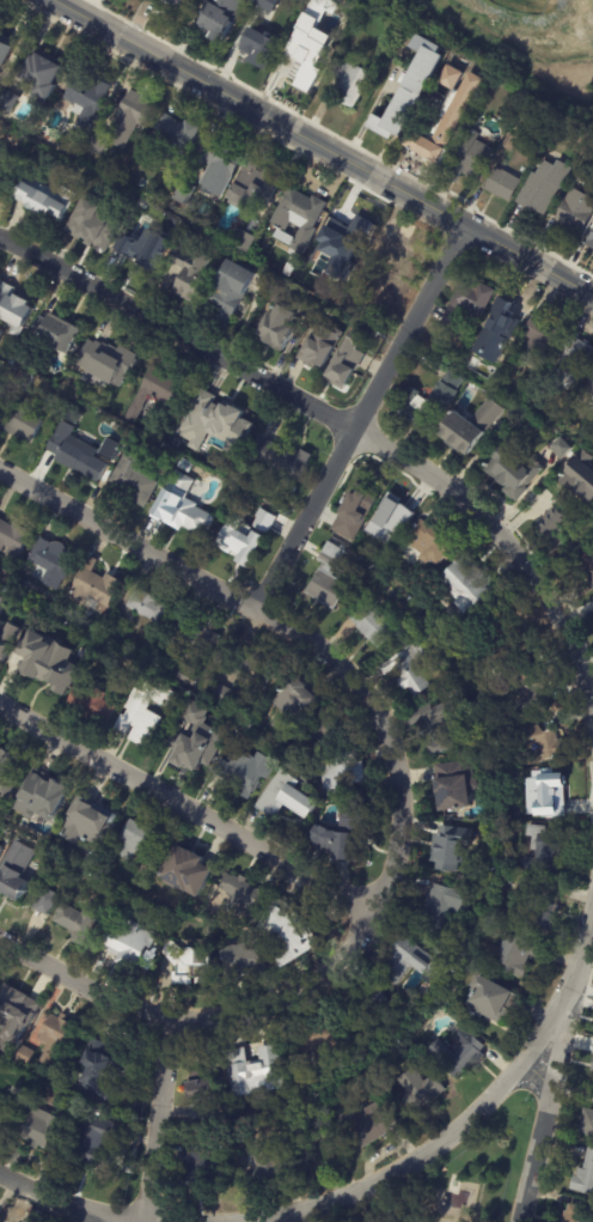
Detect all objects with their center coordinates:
building: (268, 4)
building: (181, 5)
building: (357, 6)
building: (222, 18)
building: (262, 39)
building: (8, 48)
building: (308, 60)
building: (44, 74)
building: (351, 81)
building: (90, 98)
building: (11, 99)
building: (422, 102)
building: (509, 107)
building: (134, 117)
building: (56, 120)
building: (179, 135)
building: (100, 141)
building: (511, 141)
road: (323, 147)
building: (589, 152)
building: (224, 158)
building: (472, 158)
building: (585, 171)
building: (4, 174)
building: (503, 183)
building: (253, 188)
building: (185, 191)
building: (540, 191)
building: (50, 201)
building: (148, 211)
building: (574, 214)
building: (300, 219)
building: (97, 221)
building: (353, 233)
building: (243, 239)
building: (591, 239)
building: (135, 250)
building: (157, 251)
building: (395, 262)
building: (293, 267)
building: (191, 273)
building: (356, 287)
building: (232, 288)
road: (589, 294)
building: (470, 304)
building: (17, 309)
building: (313, 309)
building: (507, 320)
building: (280, 327)
road: (409, 327)
building: (2, 334)
building: (60, 334)
road: (178, 336)
building: (542, 340)
building: (478, 351)
building: (26, 354)
building: (328, 354)
building: (575, 359)
building: (110, 361)
building: (343, 364)
building: (591, 379)
building: (26, 381)
building: (592, 388)
building: (161, 393)
building: (2, 396)
building: (427, 403)
building: (555, 415)
building: (24, 422)
building: (222, 424)
building: (470, 426)
building: (587, 431)
building: (182, 439)
building: (569, 449)
building: (112, 454)
building: (78, 456)
building: (280, 458)
building: (188, 466)
building: (514, 469)
building: (580, 476)
building: (136, 480)
building: (246, 506)
building: (554, 506)
building: (185, 507)
building: (378, 510)
road: (306, 518)
building: (265, 521)
building: (347, 521)
building: (244, 539)
building: (14, 540)
road: (128, 542)
building: (430, 543)
road: (505, 543)
building: (55, 563)
building: (588, 567)
building: (330, 578)
building: (6, 583)
building: (470, 585)
building: (94, 588)
building: (0, 597)
building: (151, 608)
building: (374, 625)
building: (429, 633)
building: (117, 636)
building: (6, 649)
building: (196, 650)
building: (161, 663)
building: (410, 669)
building: (137, 671)
building: (258, 671)
building: (51, 673)
building: (88, 680)
building: (528, 683)
building: (222, 693)
building: (294, 701)
building: (96, 706)
building: (142, 721)
building: (326, 728)
building: (447, 729)
building: (509, 735)
building: (201, 740)
building: (542, 740)
building: (246, 772)
building: (10, 773)
building: (342, 776)
building: (458, 785)
building: (551, 795)
building: (47, 797)
building: (289, 797)
road: (188, 804)
building: (90, 823)
building: (348, 835)
building: (143, 841)
building: (0, 844)
building: (457, 845)
building: (548, 853)
road: (397, 855)
building: (16, 871)
building: (192, 874)
building: (472, 882)
building: (111, 896)
building: (246, 898)
building: (48, 902)
building: (546, 904)
building: (445, 908)
building: (79, 923)
building: (293, 934)
building: (134, 947)
building: (442, 953)
building: (521, 953)
road: (580, 957)
building: (247, 962)
building: (415, 962)
building: (194, 963)
road: (84, 984)
building: (489, 1001)
building: (367, 1005)
building: (16, 1010)
building: (55, 1036)
building: (317, 1044)
building: (459, 1056)
building: (27, 1057)
building: (66, 1064)
building: (592, 1065)
building: (98, 1070)
building: (262, 1071)
building: (423, 1092)
building: (23, 1094)
building: (202, 1096)
building: (6, 1112)
road: (540, 1112)
road: (159, 1119)
building: (585, 1123)
building: (372, 1125)
building: (43, 1126)
building: (63, 1144)
building: (99, 1145)
road: (441, 1145)
building: (202, 1168)
building: (267, 1172)
building: (583, 1175)
park: (457, 1178)
road: (49, 1194)
building: (576, 1214)
road: (299, 1217)
road: (438, 1220)

